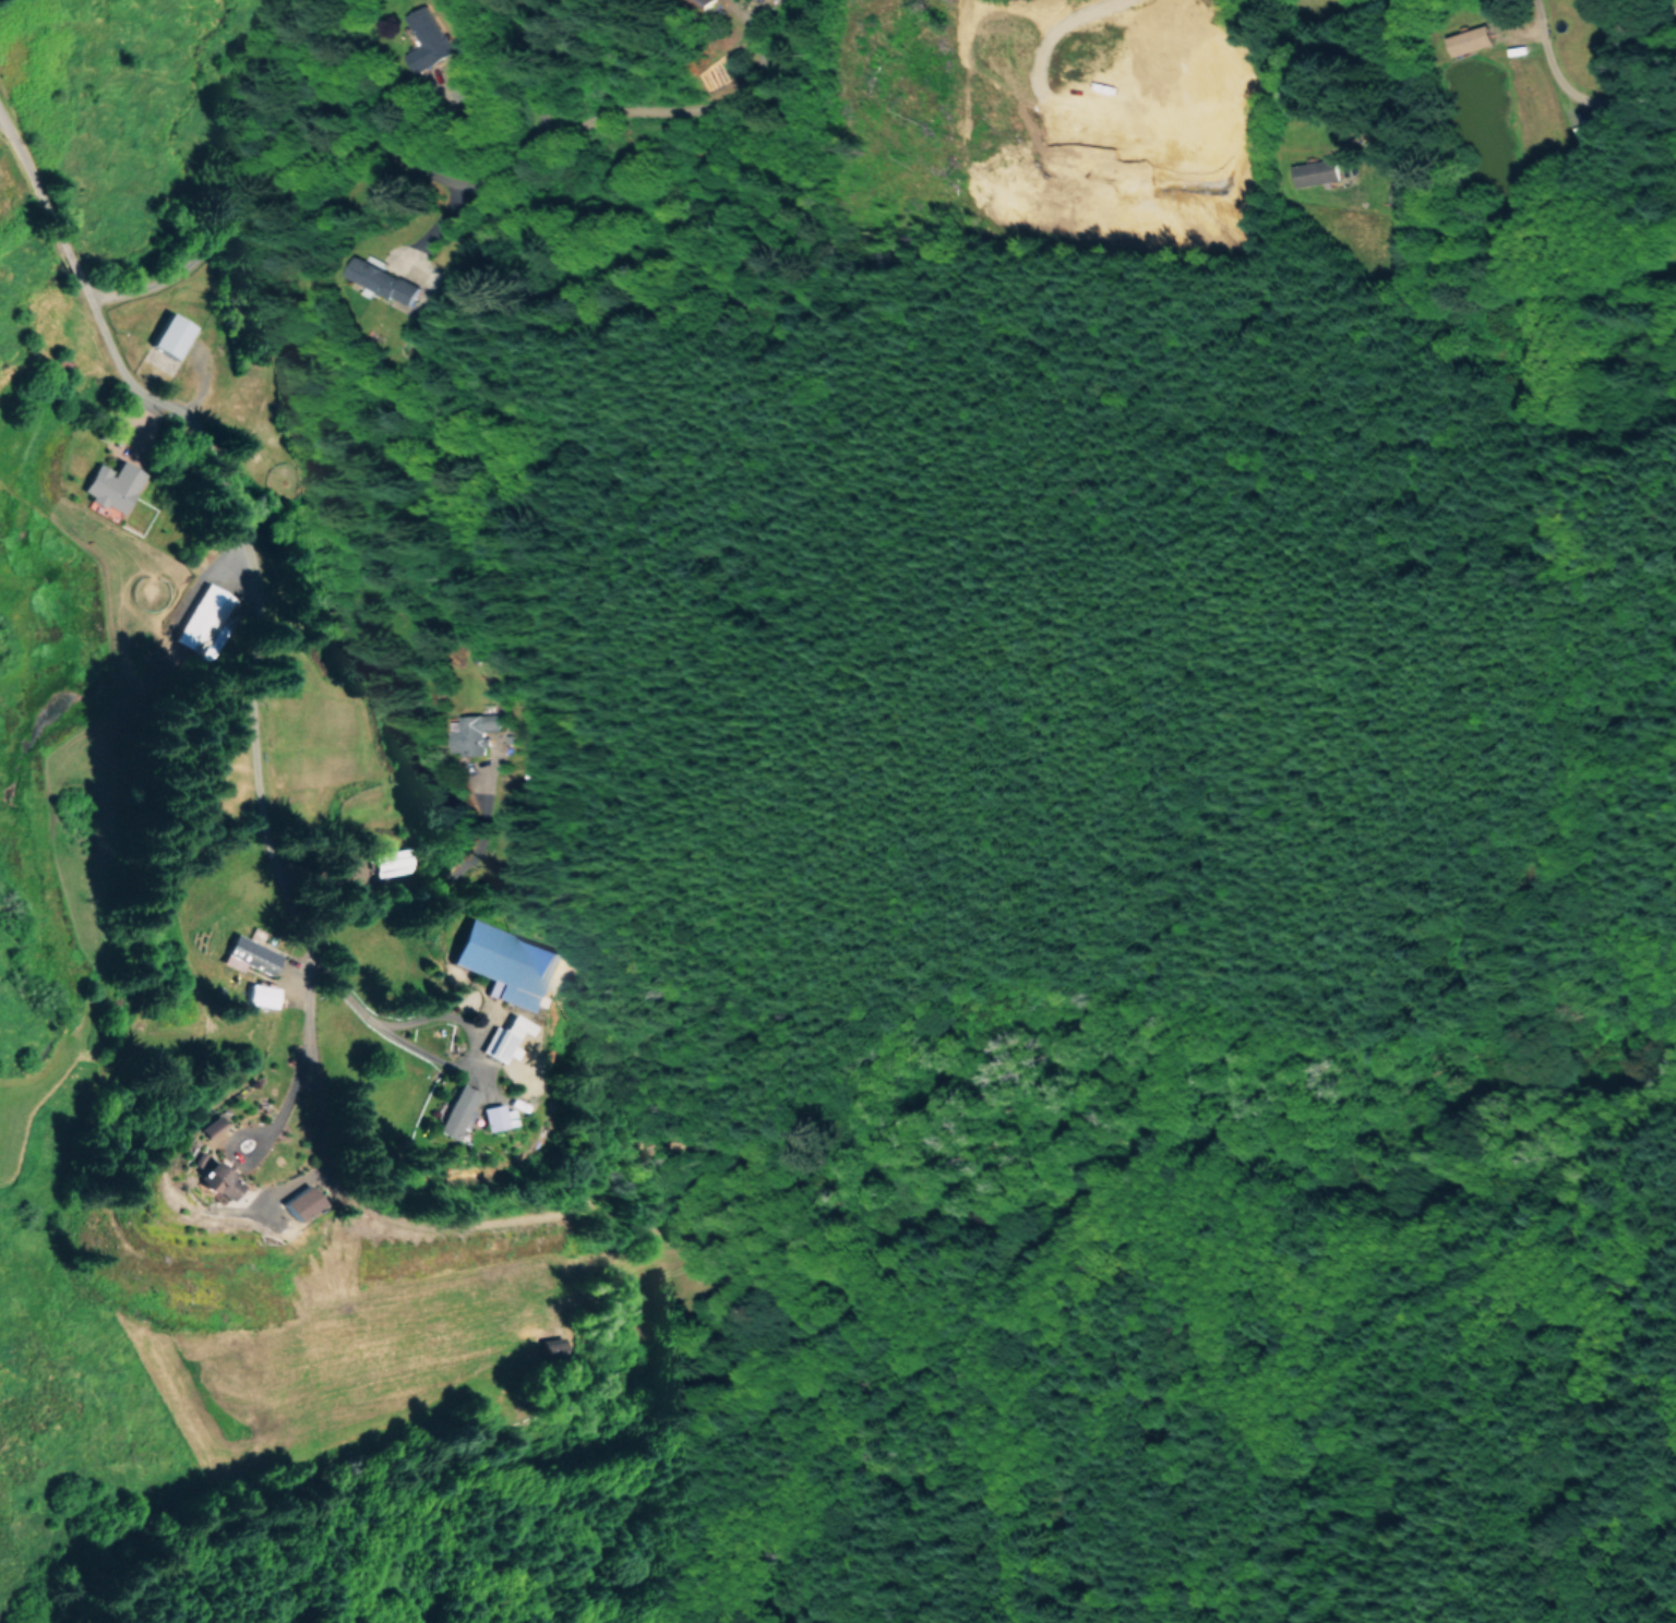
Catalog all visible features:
building: (702, 3)
building: (422, 38)
building: (1466, 39)
building: (1313, 171)
road: (548, 232)
building: (379, 281)
building: (168, 335)
road: (285, 474)
building: (110, 485)
building: (201, 620)
building: (469, 732)
building: (391, 862)
building: (247, 954)
building: (501, 962)
building: (259, 994)
building: (504, 1037)
building: (454, 1111)
building: (209, 1126)
building: (214, 1176)
building: (299, 1202)
building: (549, 1345)

